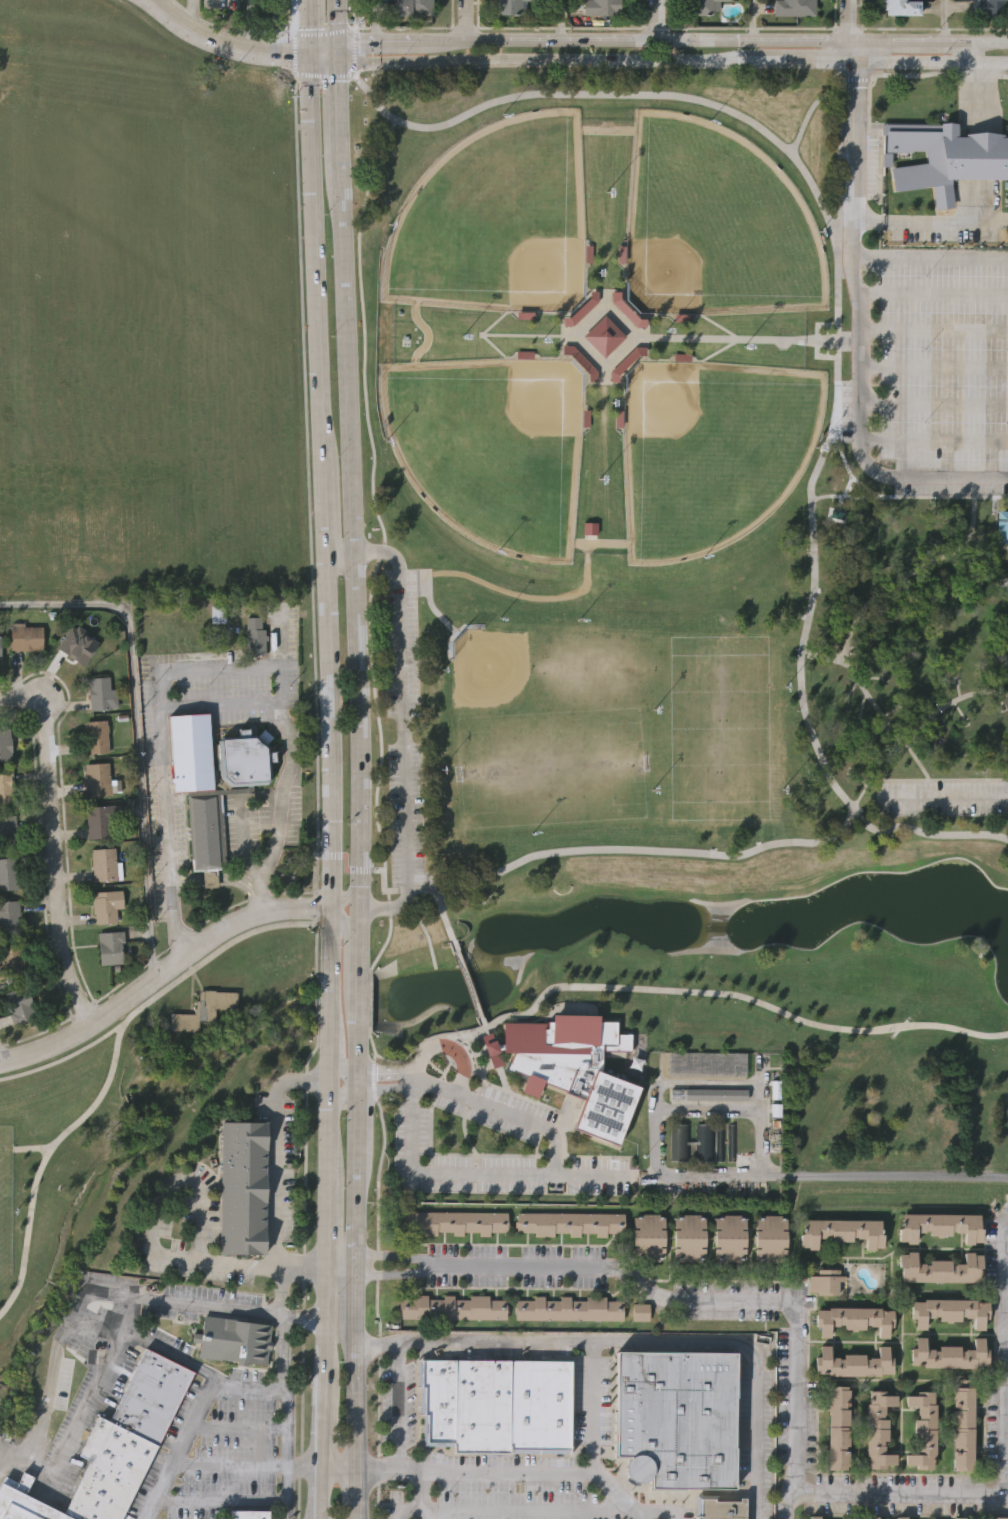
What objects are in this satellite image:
road: (151, 0)
building: (702, 6)
building: (989, 6)
building: (509, 7)
building: (600, 7)
building: (794, 7)
building: (900, 7)
building: (414, 8)
road: (187, 13)
road: (659, 19)
road: (374, 20)
road: (467, 20)
road: (563, 20)
road: (752, 20)
road: (848, 20)
road: (944, 20)
road: (335, 21)
road: (313, 25)
road: (657, 39)
road: (442, 40)
road: (892, 40)
road: (355, 41)
road: (396, 41)
road: (972, 41)
traffic signals: (335, 42)
road: (225, 44)
road: (324, 46)
road: (848, 49)
traffic signals: (314, 51)
road: (335, 52)
road: (324, 57)
road: (556, 59)
road: (813, 59)
road: (927, 60)
traffic signals: (335, 63)
road: (970, 88)
road: (336, 106)
building: (944, 158)
road: (975, 196)
road: (915, 213)
park: (498, 222)
park: (715, 225)
road: (312, 242)
road: (932, 257)
road: (857, 278)
road: (932, 295)
road: (838, 315)
road: (365, 330)
road: (933, 331)
building: (603, 338)
road: (343, 349)
parking lot: (939, 367)
road: (933, 368)
road: (933, 403)
road: (933, 441)
park: (494, 449)
park: (714, 453)
road: (952, 476)
road: (321, 492)
road: (909, 495)
building: (1001, 526)
road: (601, 542)
road: (988, 544)
road: (338, 550)
road: (912, 578)
road: (528, 596)
building: (255, 634)
building: (26, 637)
road: (281, 642)
building: (72, 646)
park: (662, 673)
road: (161, 678)
building: (99, 693)
road: (358, 711)
road: (932, 714)
road: (885, 721)
park: (720, 724)
parking lot: (403, 726)
road: (332, 728)
road: (401, 728)
park: (545, 730)
road: (136, 733)
building: (96, 736)
road: (904, 742)
building: (5, 745)
road: (381, 748)
building: (99, 778)
road: (938, 778)
building: (6, 789)
road: (946, 796)
parking lot: (945, 797)
road: (281, 801)
building: (101, 821)
building: (206, 829)
building: (8, 831)
road: (53, 846)
road: (627, 849)
building: (103, 864)
building: (8, 873)
road: (186, 879)
road: (209, 880)
road: (241, 882)
road: (362, 890)
road: (351, 894)
building: (106, 905)
road: (259, 907)
road: (296, 907)
building: (9, 915)
road: (390, 931)
road: (345, 935)
road: (362, 936)
road: (332, 942)
building: (110, 947)
road: (316, 950)
building: (11, 959)
road: (465, 978)
road: (133, 992)
road: (745, 996)
road: (361, 997)
road: (369, 1001)
building: (17, 1005)
road: (332, 1007)
building: (202, 1010)
road: (317, 1010)
road: (361, 1055)
road: (0, 1056)
road: (65, 1056)
road: (339, 1058)
road: (112, 1062)
building: (570, 1064)
road: (332, 1073)
road: (390, 1073)
road: (507, 1076)
road: (366, 1082)
road: (658, 1086)
road: (392, 1087)
road: (342, 1090)
building: (709, 1093)
road: (708, 1110)
road: (548, 1135)
road: (360, 1138)
road: (331, 1140)
building: (681, 1141)
building: (720, 1141)
building: (732, 1142)
building: (705, 1143)
road: (273, 1149)
road: (572, 1156)
park: (53, 1159)
road: (440, 1174)
road: (885, 1176)
road: (182, 1180)
building: (242, 1190)
park: (5, 1204)
road: (331, 1220)
building: (452, 1222)
building: (569, 1223)
road: (359, 1224)
building: (941, 1225)
building: (841, 1231)
building: (647, 1236)
building: (687, 1237)
building: (729, 1237)
building: (769, 1237)
road: (395, 1254)
road: (345, 1261)
road: (242, 1264)
road: (360, 1264)
building: (940, 1267)
road: (345, 1272)
road: (396, 1273)
road: (376, 1275)
road: (304, 1278)
building: (826, 1281)
road: (200, 1299)
road: (713, 1302)
road: (359, 1303)
building: (452, 1307)
building: (568, 1308)
building: (950, 1309)
building: (640, 1313)
road: (302, 1319)
building: (854, 1319)
road: (143, 1335)
road: (378, 1340)
building: (233, 1341)
road: (597, 1341)
road: (53, 1349)
building: (947, 1353)
road: (1005, 1356)
building: (853, 1363)
road: (245, 1386)
road: (275, 1387)
road: (328, 1394)
road: (358, 1399)
building: (498, 1402)
road: (595, 1407)
building: (675, 1417)
road: (233, 1427)
building: (837, 1427)
building: (963, 1428)
building: (878, 1429)
building: (923, 1430)
building: (112, 1447)
road: (249, 1465)
road: (343, 1466)
road: (509, 1469)
road: (358, 1493)
road: (899, 1493)
road: (417, 1499)
road: (236, 1501)
road: (519, 1507)
building: (721, 1509)
road: (656, 1512)
building: (247, 1514)
building: (813, 1517)
building: (872, 1517)
building: (996, 1517)
building: (900, 1518)
building: (959, 1518)

